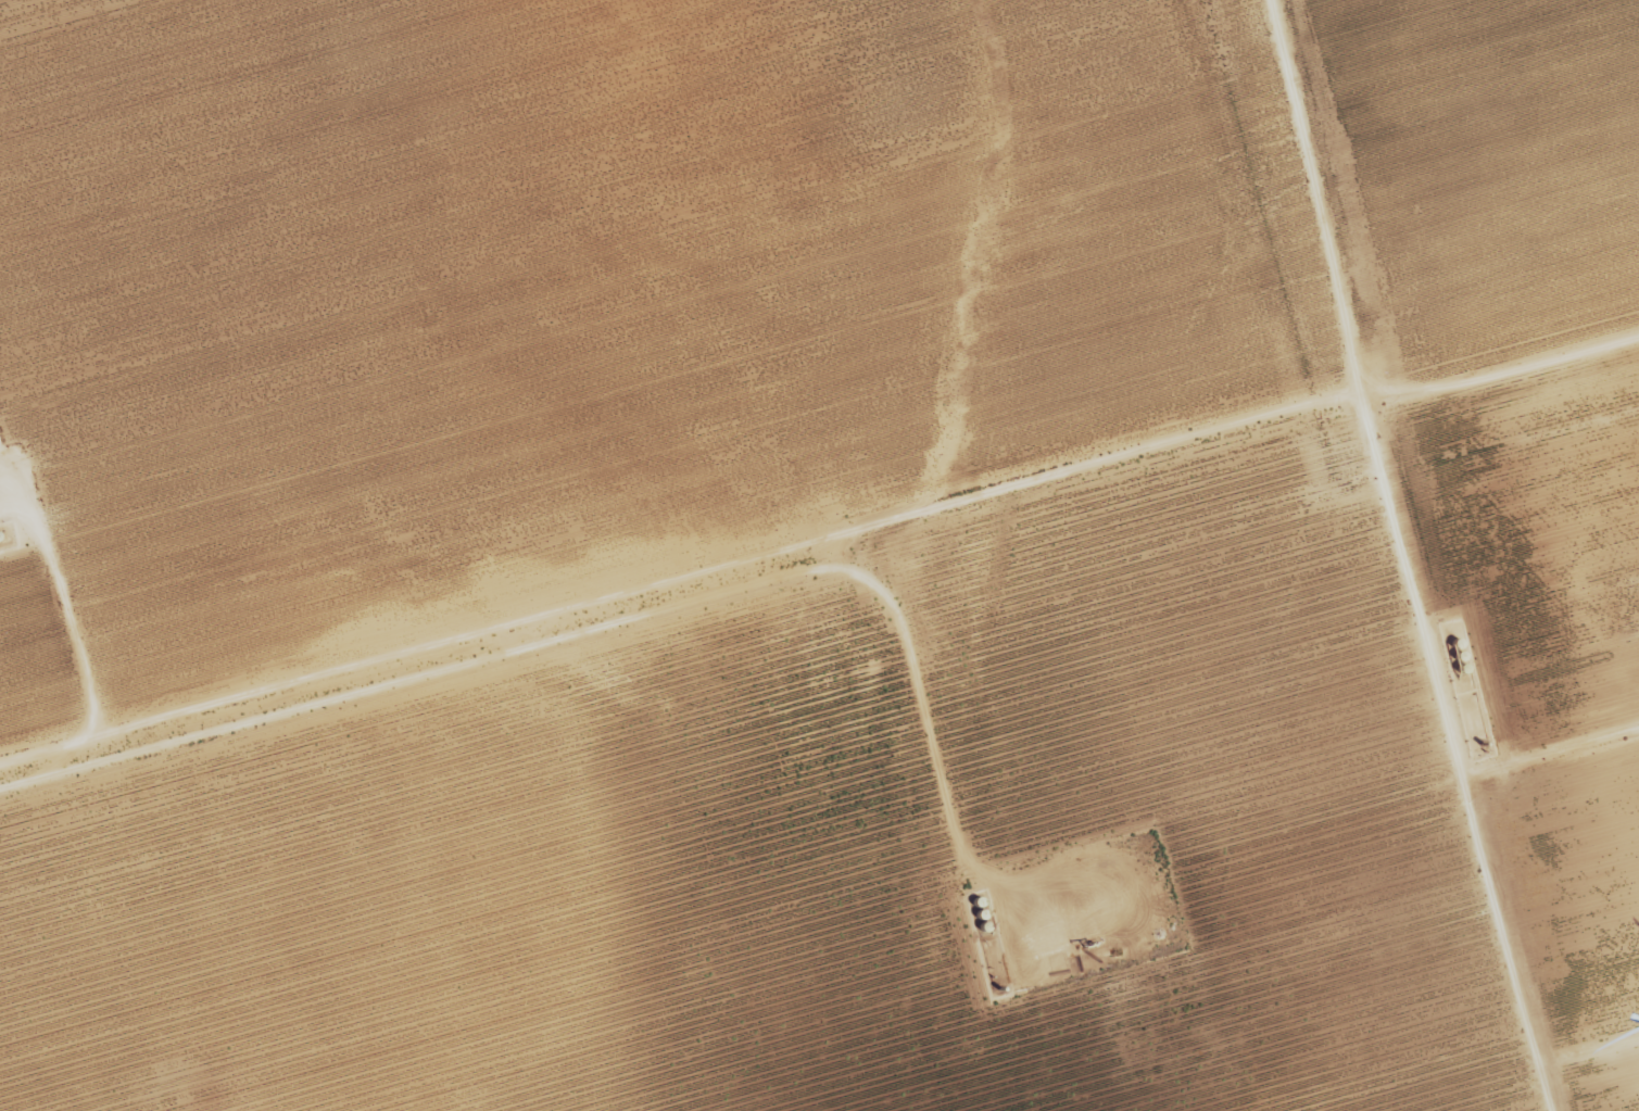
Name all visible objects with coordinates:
road: (1315, 193)
road: (1041, 474)
road: (644, 611)
road: (1550, 746)
road: (1589, 1046)

